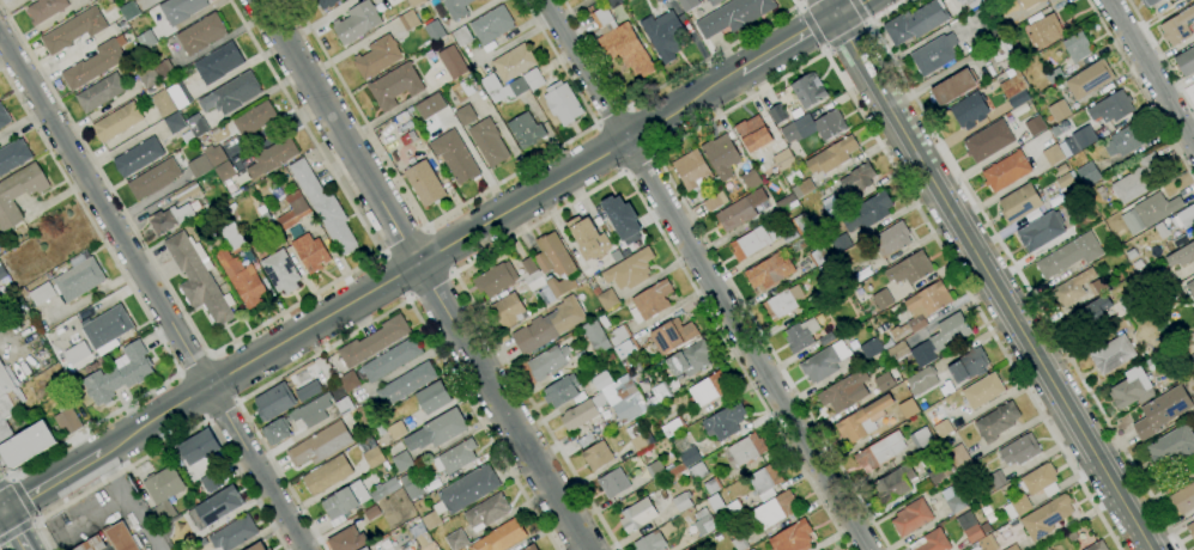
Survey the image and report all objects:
building: (91, 0)
building: (657, 0)
building: (1141, 0)
building: (394, 2)
building: (414, 2)
building: (614, 2)
building: (714, 2)
building: (964, 2)
building: (1151, 2)
building: (326, 4)
road: (807, 4)
building: (1030, 4)
building: (687, 5)
road: (800, 6)
building: (455, 7)
road: (831, 8)
road: (850, 8)
building: (44, 10)
building: (181, 10)
building: (128, 11)
road: (859, 11)
building: (733, 16)
traffic signals: (837, 17)
building: (408, 20)
building: (356, 22)
building: (987, 22)
road: (866, 23)
building: (916, 23)
building: (491, 25)
building: (1178, 26)
road: (812, 27)
building: (73, 30)
building: (434, 30)
building: (1044, 31)
building: (201, 33)
building: (662, 35)
road: (844, 35)
building: (461, 36)
building: (146, 39)
building: (622, 43)
road: (788, 44)
building: (1077, 47)
building: (1014, 48)
road: (825, 49)
building: (998, 50)
building: (934, 54)
building: (377, 57)
road: (1159, 57)
building: (96, 62)
building: (451, 62)
building: (514, 62)
building: (1186, 62)
building: (218, 63)
building: (164, 68)
road: (1151, 71)
road: (789, 72)
building: (1055, 75)
building: (149, 77)
building: (1090, 80)
building: (525, 82)
road: (661, 85)
building: (394, 86)
building: (953, 86)
building: (1014, 88)
road: (1139, 91)
building: (101, 93)
building: (807, 93)
building: (231, 94)
building: (180, 96)
building: (163, 103)
building: (563, 103)
building: (429, 106)
building: (1111, 108)
building: (969, 110)
building: (1059, 111)
building: (465, 115)
road: (612, 115)
building: (777, 115)
building: (4, 117)
building: (255, 120)
building: (117, 122)
building: (175, 123)
building: (196, 126)
building: (1035, 126)
building: (813, 127)
road: (640, 129)
building: (527, 132)
building: (753, 133)
building: (188, 137)
building: (1080, 139)
building: (1125, 140)
building: (489, 141)
building: (988, 141)
road: (610, 147)
building: (214, 154)
building: (13, 155)
building: (721, 155)
building: (832, 155)
building: (1053, 155)
building: (139, 157)
building: (272, 157)
building: (455, 157)
building: (783, 159)
road: (637, 161)
building: (199, 166)
building: (692, 170)
building: (225, 171)
building: (1006, 171)
building: (793, 173)
building: (1089, 175)
building: (857, 178)
building: (153, 179)
building: (751, 179)
building: (1135, 179)
building: (1063, 181)
building: (425, 183)
building: (806, 187)
road: (589, 190)
building: (19, 191)
building: (188, 191)
building: (1056, 200)
building: (715, 201)
building: (786, 203)
building: (1019, 203)
road: (460, 207)
building: (325, 208)
building: (293, 210)
building: (741, 210)
building: (869, 212)
building: (1147, 213)
building: (1187, 218)
building: (170, 219)
building: (622, 219)
building: (268, 224)
building: (801, 224)
building: (1041, 231)
building: (1162, 231)
building: (588, 238)
building: (235, 239)
building: (891, 239)
road: (404, 240)
building: (1180, 240)
building: (753, 242)
road: (440, 250)
building: (310, 252)
building: (1069, 255)
building: (553, 256)
building: (1181, 256)
road: (420, 263)
building: (528, 265)
road: (1013, 265)
building: (630, 269)
building: (910, 269)
building: (280, 271)
building: (770, 271)
building: (2, 274)
road: (424, 275)
road: (707, 275)
building: (79, 277)
building: (199, 277)
building: (496, 279)
building: (242, 280)
building: (534, 280)
building: (1160, 281)
building: (829, 283)
road: (995, 283)
building: (1098, 286)
road: (430, 287)
building: (1073, 287)
building: (556, 288)
building: (1190, 288)
road: (152, 289)
building: (42, 293)
building: (0, 297)
building: (608, 299)
building: (883, 299)
building: (786, 300)
building: (650, 301)
building: (1168, 302)
building: (1128, 304)
building: (922, 308)
building: (508, 311)
road: (145, 316)
building: (1090, 316)
road: (374, 322)
building: (548, 325)
building: (108, 328)
building: (619, 335)
building: (672, 335)
building: (801, 335)
building: (595, 336)
road: (247, 337)
building: (940, 338)
building: (374, 341)
building: (871, 348)
building: (626, 350)
building: (78, 353)
building: (899, 354)
building: (1113, 355)
building: (1193, 356)
building: (392, 359)
building: (690, 359)
building: (825, 361)
building: (548, 362)
building: (1152, 363)
building: (134, 365)
building: (968, 365)
road: (196, 366)
road: (225, 379)
building: (887, 379)
building: (921, 380)
building: (5, 381)
building: (348, 381)
building: (599, 383)
building: (406, 384)
building: (102, 385)
building: (709, 387)
building: (1132, 389)
building: (309, 391)
building: (560, 391)
building: (846, 391)
building: (982, 391)
building: (659, 395)
road: (193, 396)
building: (434, 397)
building: (16, 402)
building: (274, 402)
building: (629, 402)
building: (344, 405)
building: (908, 409)
road: (222, 410)
building: (313, 411)
building: (368, 411)
building: (583, 411)
building: (1162, 411)
building: (67, 420)
building: (861, 420)
building: (998, 421)
building: (723, 422)
building: (673, 427)
building: (943, 429)
building: (396, 430)
building: (437, 430)
building: (275, 432)
building: (5, 433)
building: (636, 438)
road: (172, 439)
building: (921, 439)
building: (28, 445)
building: (320, 445)
building: (1172, 446)
building: (199, 447)
building: (747, 448)
building: (1019, 450)
building: (880, 451)
building: (686, 452)
building: (598, 456)
building: (374, 457)
building: (455, 457)
building: (959, 459)
building: (401, 460)
building: (654, 467)
building: (698, 471)
building: (941, 472)
building: (677, 473)
building: (327, 476)
road: (10, 478)
building: (214, 478)
building: (990, 481)
building: (1041, 481)
road: (5, 482)
building: (764, 482)
road: (51, 483)
building: (613, 483)
building: (895, 483)
building: (411, 485)
building: (384, 489)
building: (164, 493)
building: (462, 494)
road: (20, 499)
building: (1183, 499)
building: (954, 501)
building: (683, 502)
building: (340, 503)
building: (217, 507)
building: (1018, 507)
building: (735, 508)
road: (1, 509)
building: (772, 509)
building: (486, 512)
road: (1, 513)
traffic signals: (4, 513)
building: (637, 515)
building: (911, 518)
building: (1045, 518)
road: (34, 520)
building: (704, 522)
building: (969, 527)
road: (16, 528)
building: (1190, 528)
road: (13, 531)
building: (234, 533)
building: (420, 536)
building: (119, 537)
building: (501, 537)
building: (792, 537)
building: (348, 539)
building: (456, 539)
building: (738, 539)
building: (932, 540)
building: (651, 542)
building: (987, 543)
building: (91, 544)
building: (257, 546)
building: (1097, 546)
building: (532, 548)
building: (975, 548)
building: (1013, 548)
building: (364, 549)
building: (436, 549)
building: (752, 549)

